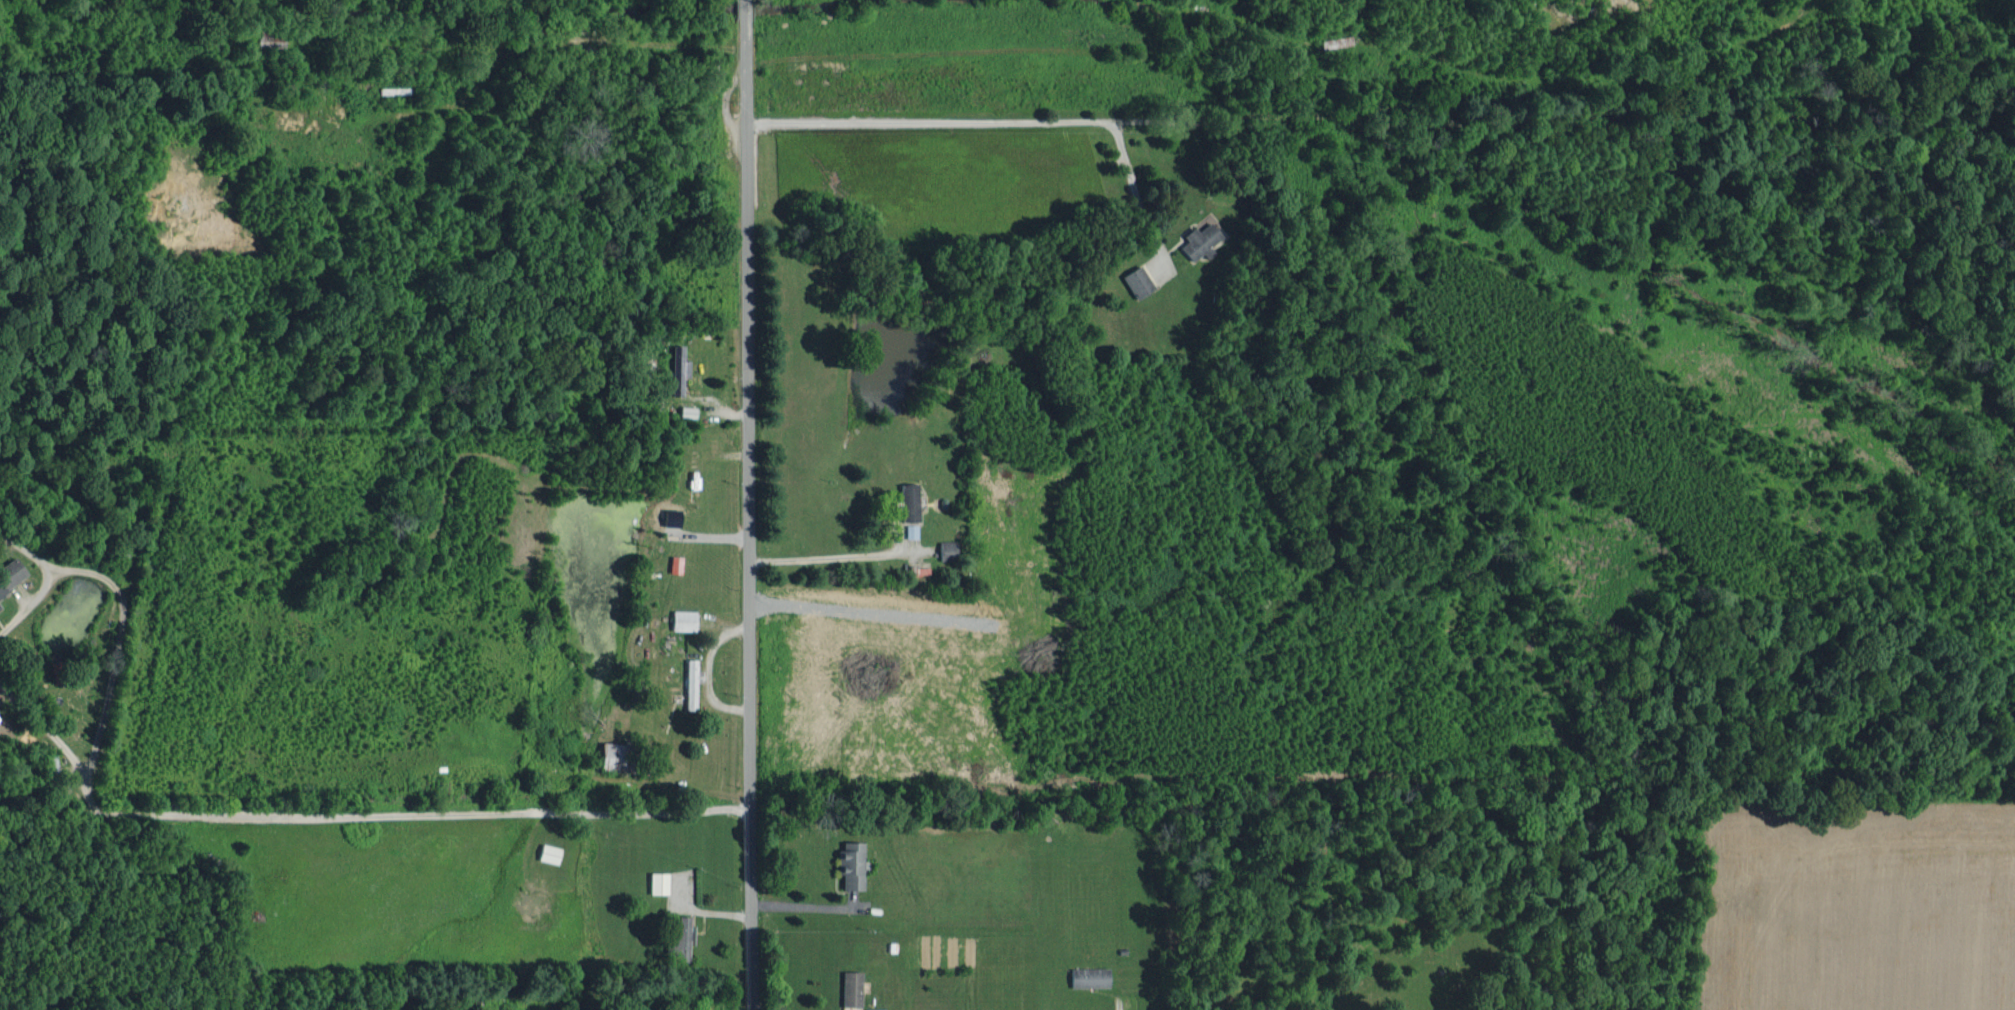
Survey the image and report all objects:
building: (1197, 240)
building: (1135, 280)
building: (678, 368)
building: (685, 411)
building: (907, 501)
road: (745, 505)
building: (909, 530)
building: (946, 550)
building: (9, 573)
building: (681, 619)
building: (688, 683)
building: (609, 754)
building: (547, 853)
building: (849, 864)
building: (656, 882)
building: (679, 940)
building: (1086, 976)
building: (849, 988)
building: (868, 1009)

